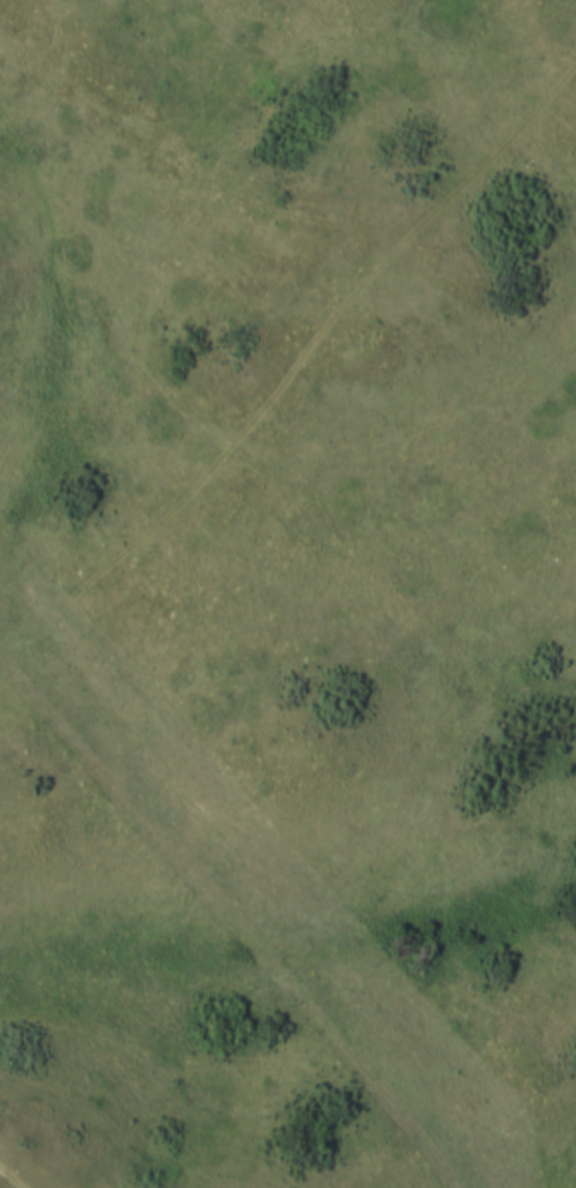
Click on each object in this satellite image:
road: (16, 1175)

